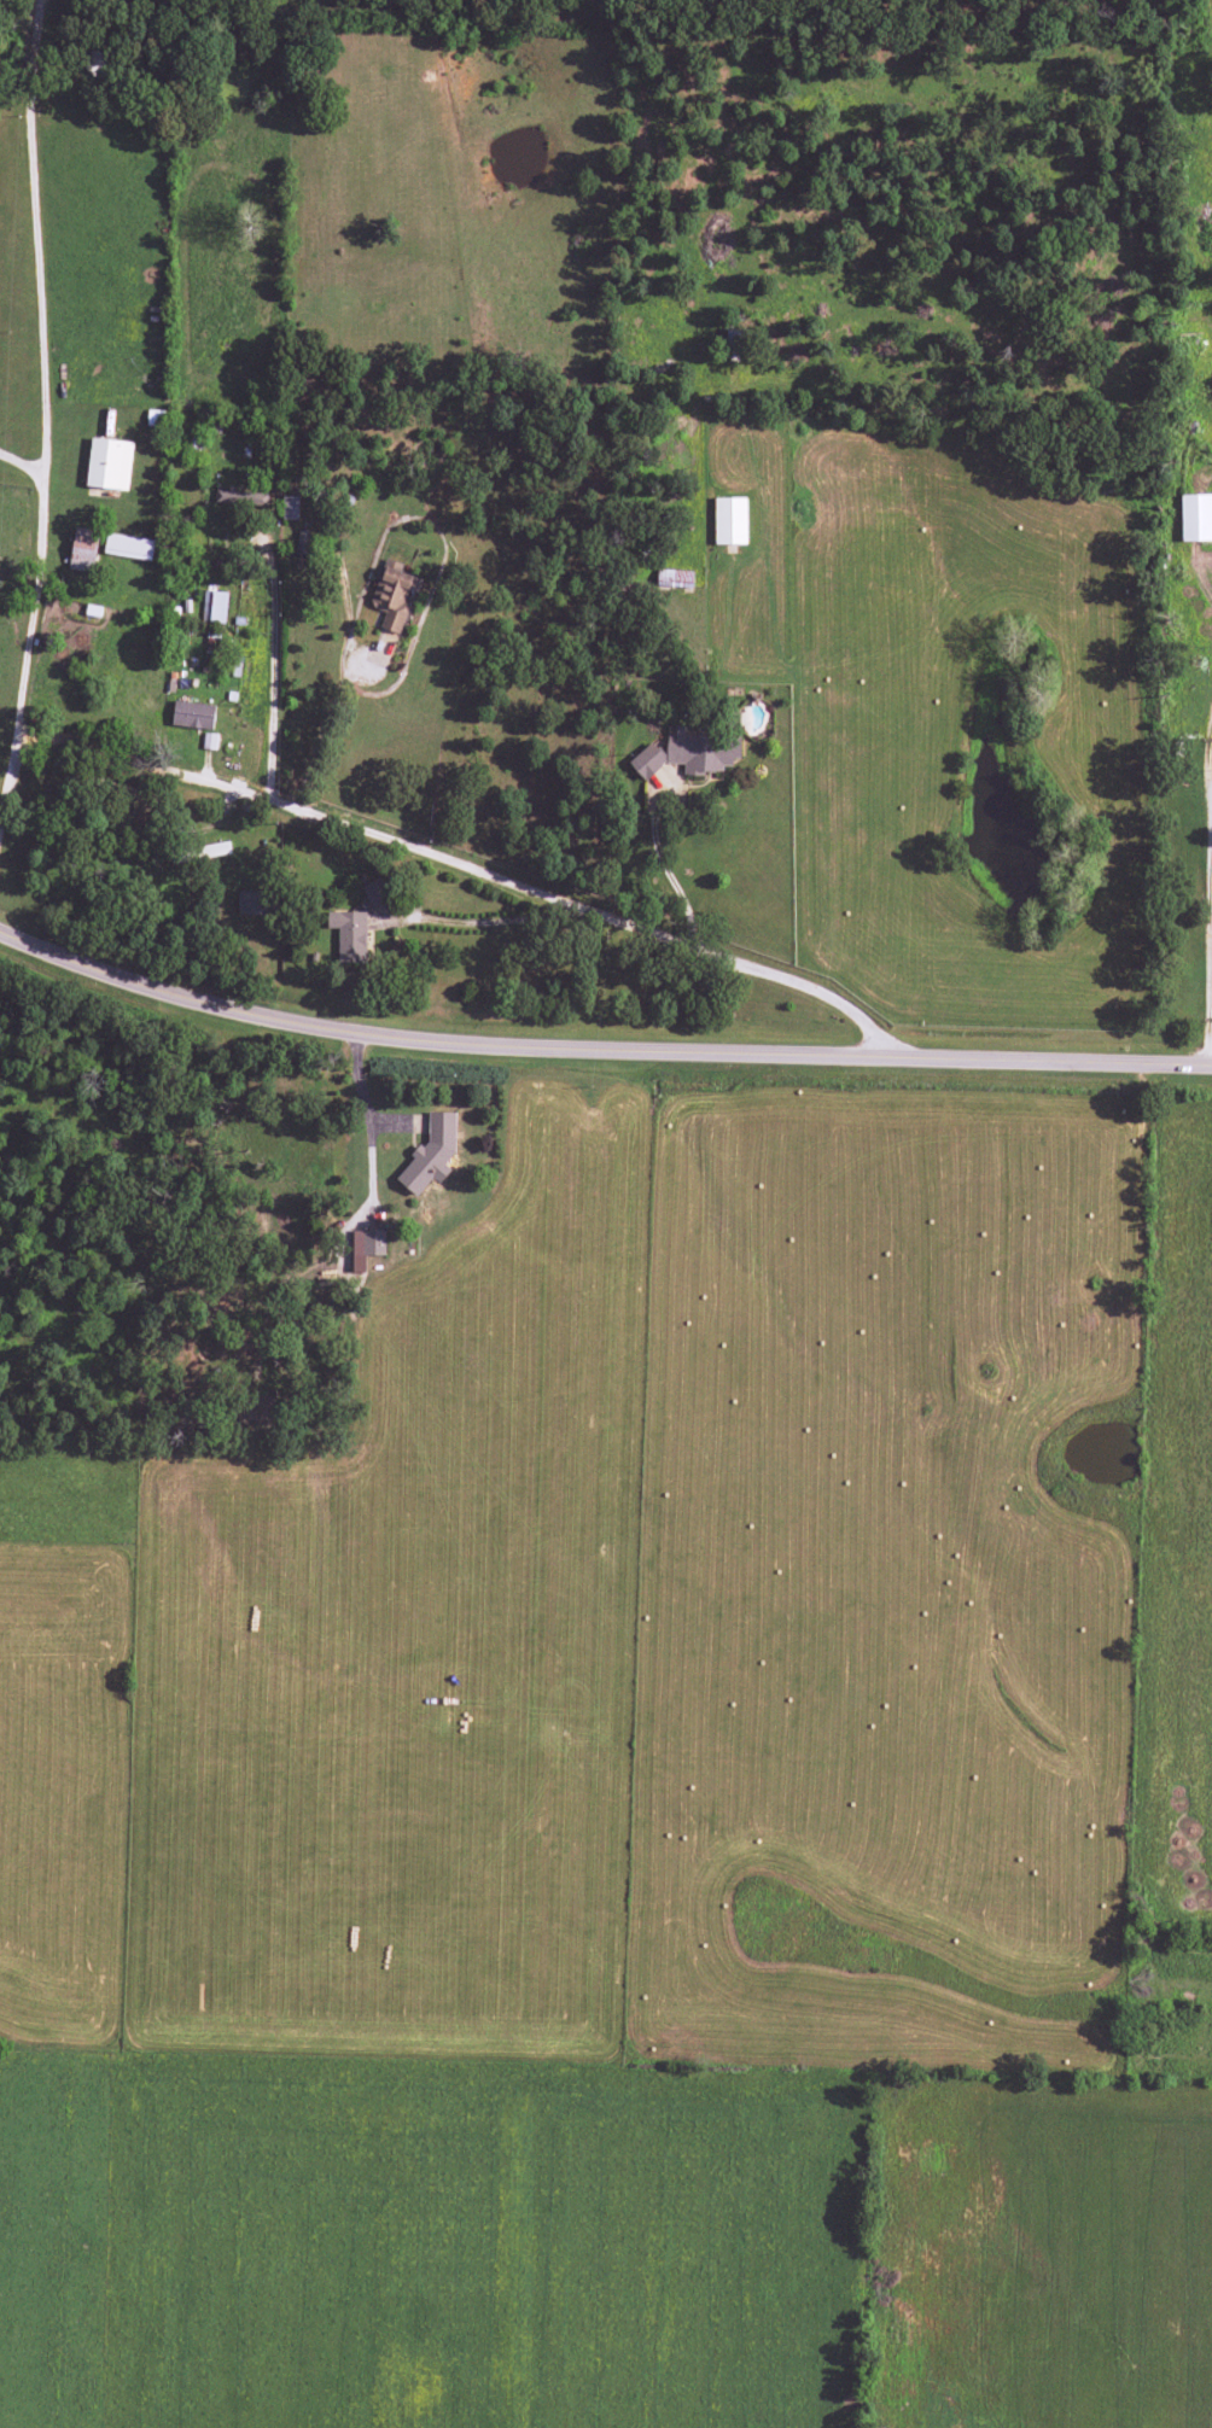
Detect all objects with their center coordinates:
road: (31, 235)
road: (21, 463)
building: (109, 463)
building: (240, 497)
building: (290, 507)
building: (1196, 518)
building: (729, 521)
building: (128, 547)
building: (83, 549)
building: (674, 578)
building: (394, 595)
building: (214, 606)
road: (29, 611)
road: (268, 654)
building: (193, 714)
building: (688, 753)
building: (216, 850)
road: (435, 856)
building: (375, 893)
building: (251, 903)
road: (1210, 930)
building: (349, 935)
road: (598, 1045)
building: (431, 1154)
building: (366, 1247)

